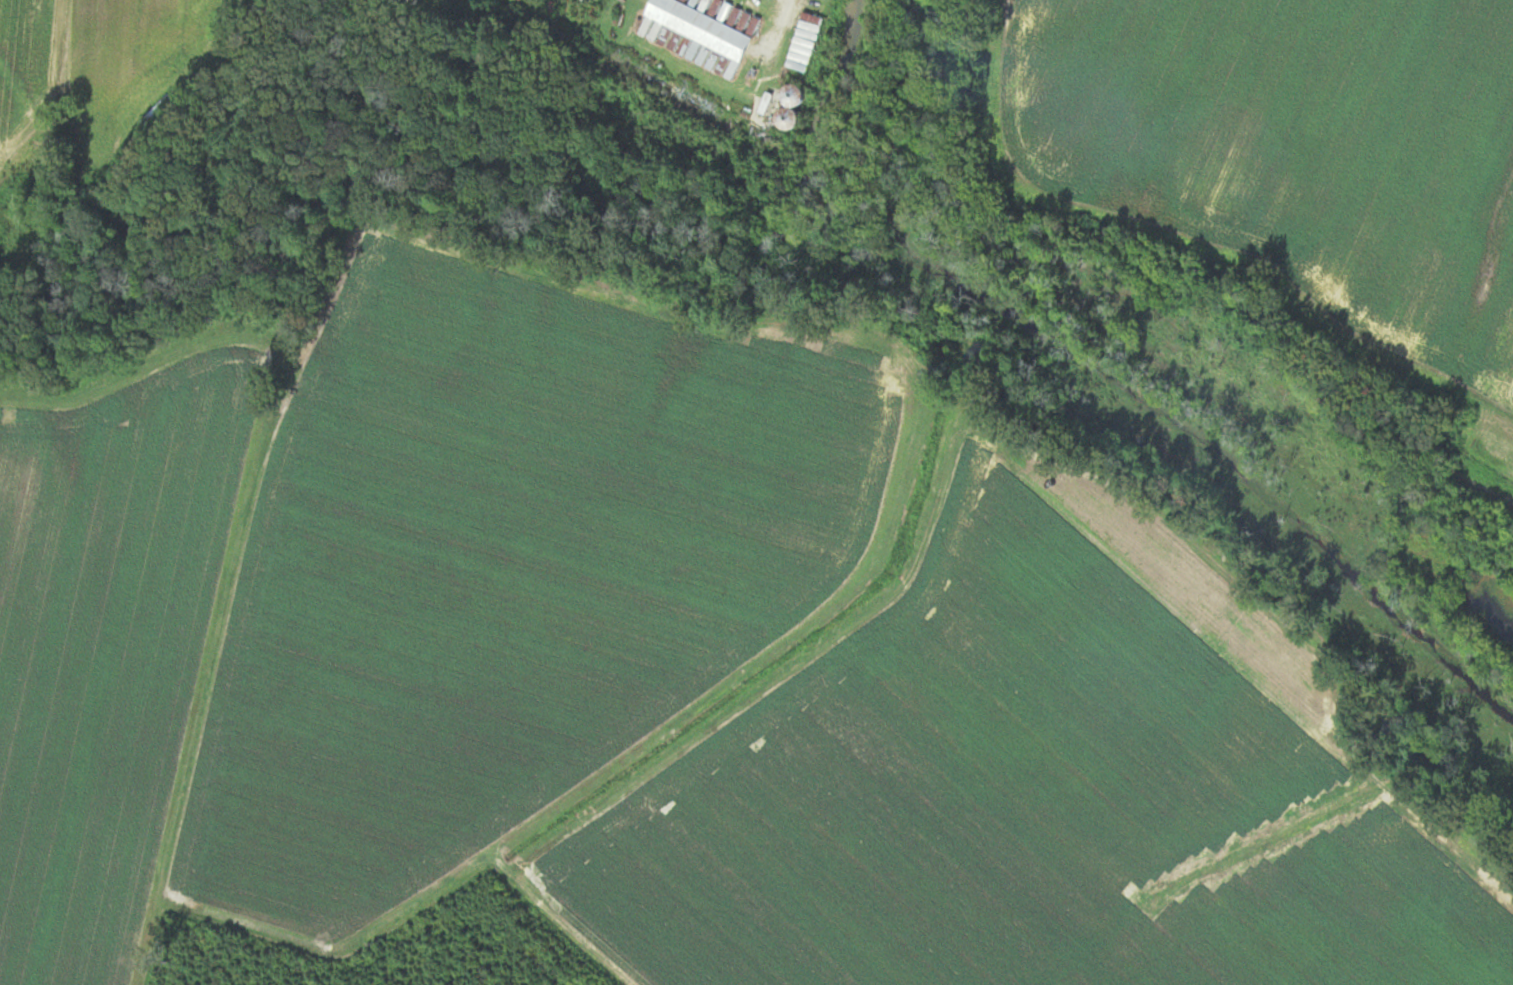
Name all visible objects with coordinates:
building: (694, 28)

